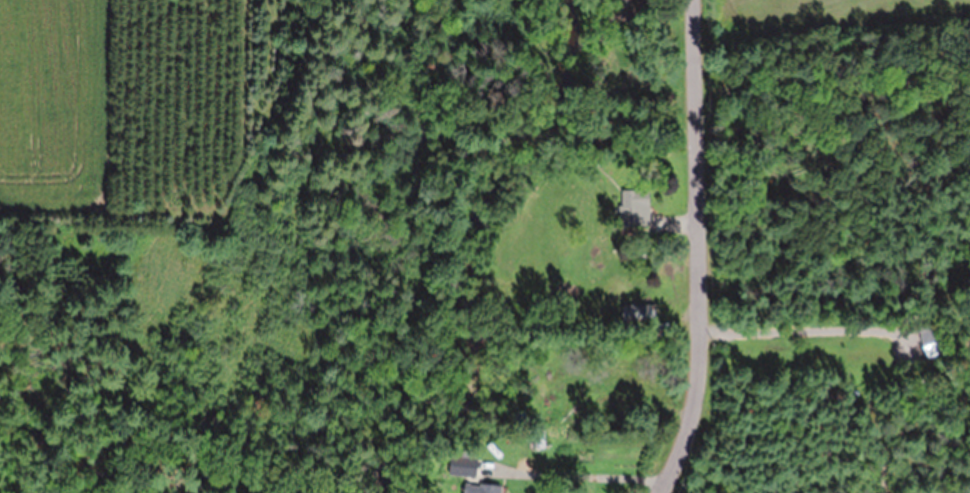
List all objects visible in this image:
building: (626, 9)
building: (632, 126)
building: (600, 157)
building: (635, 206)
building: (608, 216)
road: (701, 250)
building: (648, 313)
building: (540, 438)
building: (463, 465)
building: (483, 488)

